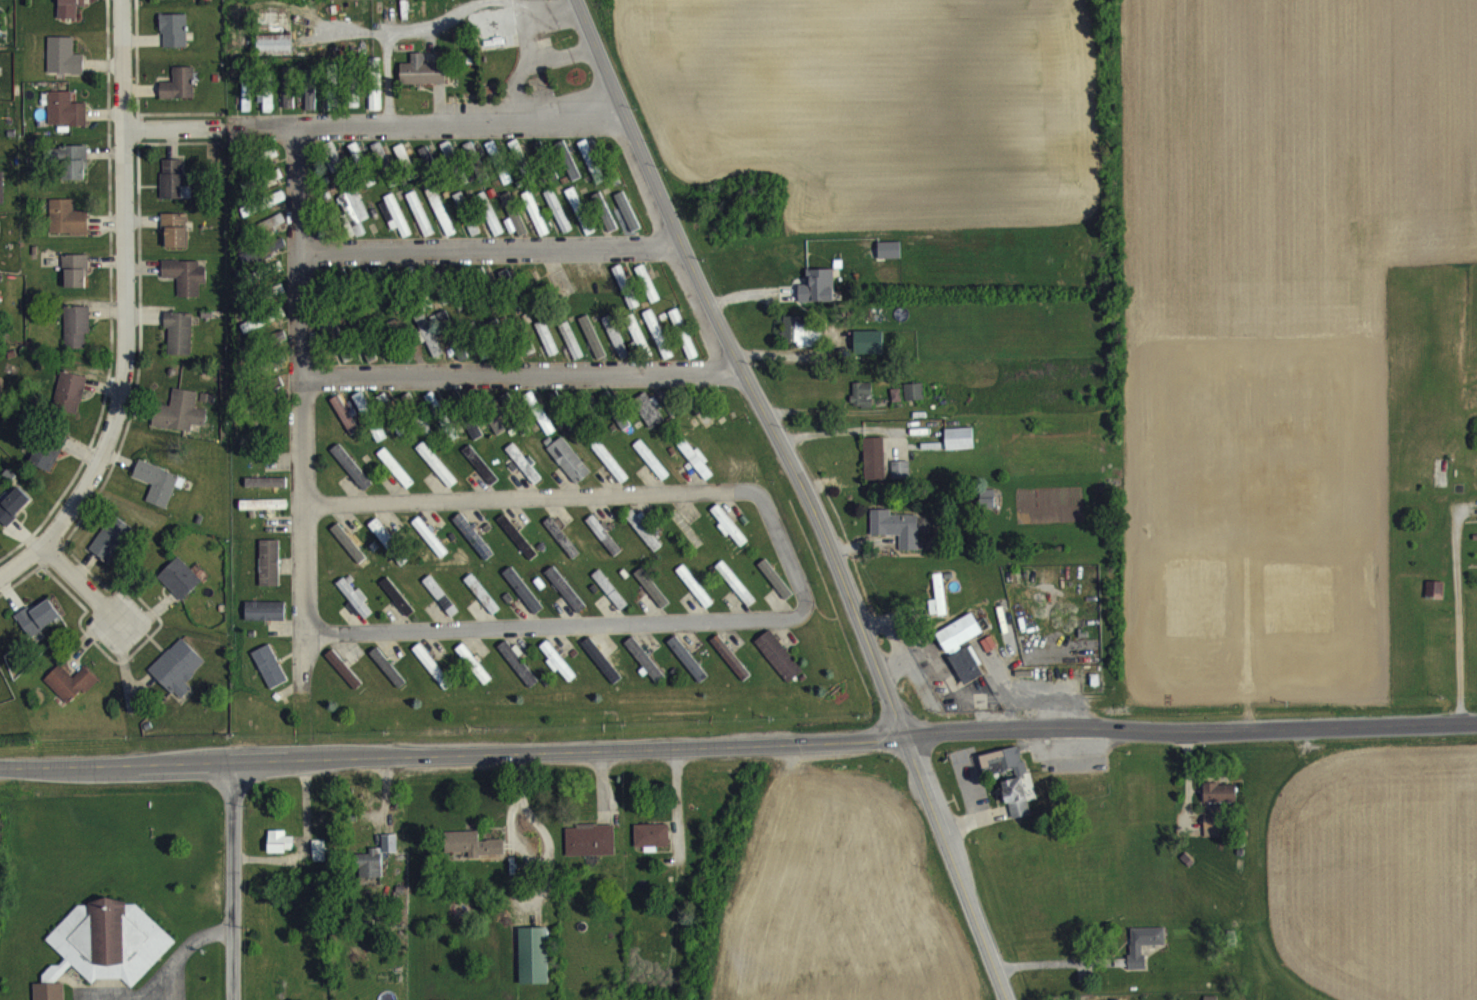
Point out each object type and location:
building: (500, 0)
building: (175, 2)
building: (71, 13)
road: (421, 38)
road: (525, 40)
building: (174, 41)
building: (274, 56)
building: (64, 67)
road: (561, 69)
building: (422, 82)
building: (180, 95)
building: (289, 99)
building: (311, 106)
building: (355, 106)
building: (375, 109)
building: (333, 110)
building: (265, 111)
building: (65, 121)
road: (439, 123)
road: (163, 126)
building: (377, 161)
building: (447, 161)
building: (471, 163)
building: (356, 164)
building: (426, 166)
building: (403, 167)
building: (333, 168)
building: (591, 172)
building: (74, 173)
building: (569, 175)
building: (173, 191)
building: (461, 213)
building: (440, 222)
building: (557, 222)
building: (580, 222)
building: (627, 222)
building: (355, 223)
building: (535, 224)
building: (603, 224)
building: (395, 225)
building: (419, 225)
building: (513, 225)
building: (67, 229)
building: (492, 231)
building: (271, 234)
building: (473, 239)
building: (175, 241)
road: (487, 245)
building: (278, 255)
building: (252, 269)
building: (76, 282)
road: (126, 285)
building: (186, 287)
building: (647, 295)
building: (818, 297)
building: (625, 298)
building: (676, 329)
building: (441, 333)
building: (76, 337)
building: (249, 337)
building: (797, 341)
building: (179, 344)
building: (636, 344)
building: (658, 345)
building: (428, 346)
building: (592, 348)
building: (615, 348)
building: (546, 349)
building: (571, 352)
building: (868, 353)
building: (687, 356)
road: (741, 366)
road: (522, 376)
road: (300, 379)
building: (70, 403)
building: (914, 403)
building: (862, 406)
building: (531, 410)
building: (556, 410)
building: (362, 414)
building: (648, 421)
building: (180, 423)
building: (345, 426)
building: (702, 426)
building: (620, 430)
building: (544, 432)
building: (496, 436)
building: (474, 441)
building: (379, 444)
building: (959, 449)
building: (46, 466)
building: (694, 469)
building: (875, 470)
building: (568, 471)
building: (651, 471)
building: (610, 473)
building: (523, 474)
building: (436, 476)
building: (480, 476)
building: (351, 478)
building: (395, 479)
building: (900, 480)
building: (266, 493)
building: (157, 494)
road: (595, 496)
building: (988, 510)
building: (263, 515)
building: (13, 517)
building: (728, 537)
building: (897, 539)
building: (643, 540)
building: (685, 540)
building: (603, 546)
building: (384, 547)
building: (473, 547)
building: (429, 548)
building: (517, 548)
building: (561, 548)
building: (111, 549)
building: (348, 554)
road: (20, 568)
building: (269, 574)
road: (78, 584)
building: (772, 586)
building: (180, 589)
building: (735, 594)
building: (695, 597)
building: (652, 599)
building: (565, 600)
building: (1435, 600)
building: (522, 601)
building: (609, 601)
building: (481, 605)
building: (397, 607)
building: (440, 607)
building: (354, 608)
building: (938, 608)
road: (1459, 615)
building: (265, 622)
road: (556, 624)
building: (38, 630)
road: (309, 657)
building: (963, 658)
building: (729, 667)
building: (779, 667)
building: (601, 670)
building: (644, 670)
building: (688, 670)
building: (558, 673)
building: (518, 674)
building: (473, 675)
building: (270, 677)
building: (432, 677)
building: (178, 678)
building: (387, 678)
building: (343, 680)
building: (70, 693)
road: (1190, 729)
road: (452, 754)
building: (1002, 772)
building: (1220, 804)
road: (974, 807)
building: (1017, 809)
building: (1212, 837)
building: (651, 846)
building: (590, 852)
building: (281, 853)
building: (473, 855)
building: (320, 861)
road: (962, 864)
building: (376, 869)
road: (229, 881)
road: (188, 950)
building: (111, 952)
building: (1139, 958)
road: (1055, 960)
building: (533, 967)
road: (165, 996)
building: (49, 997)

